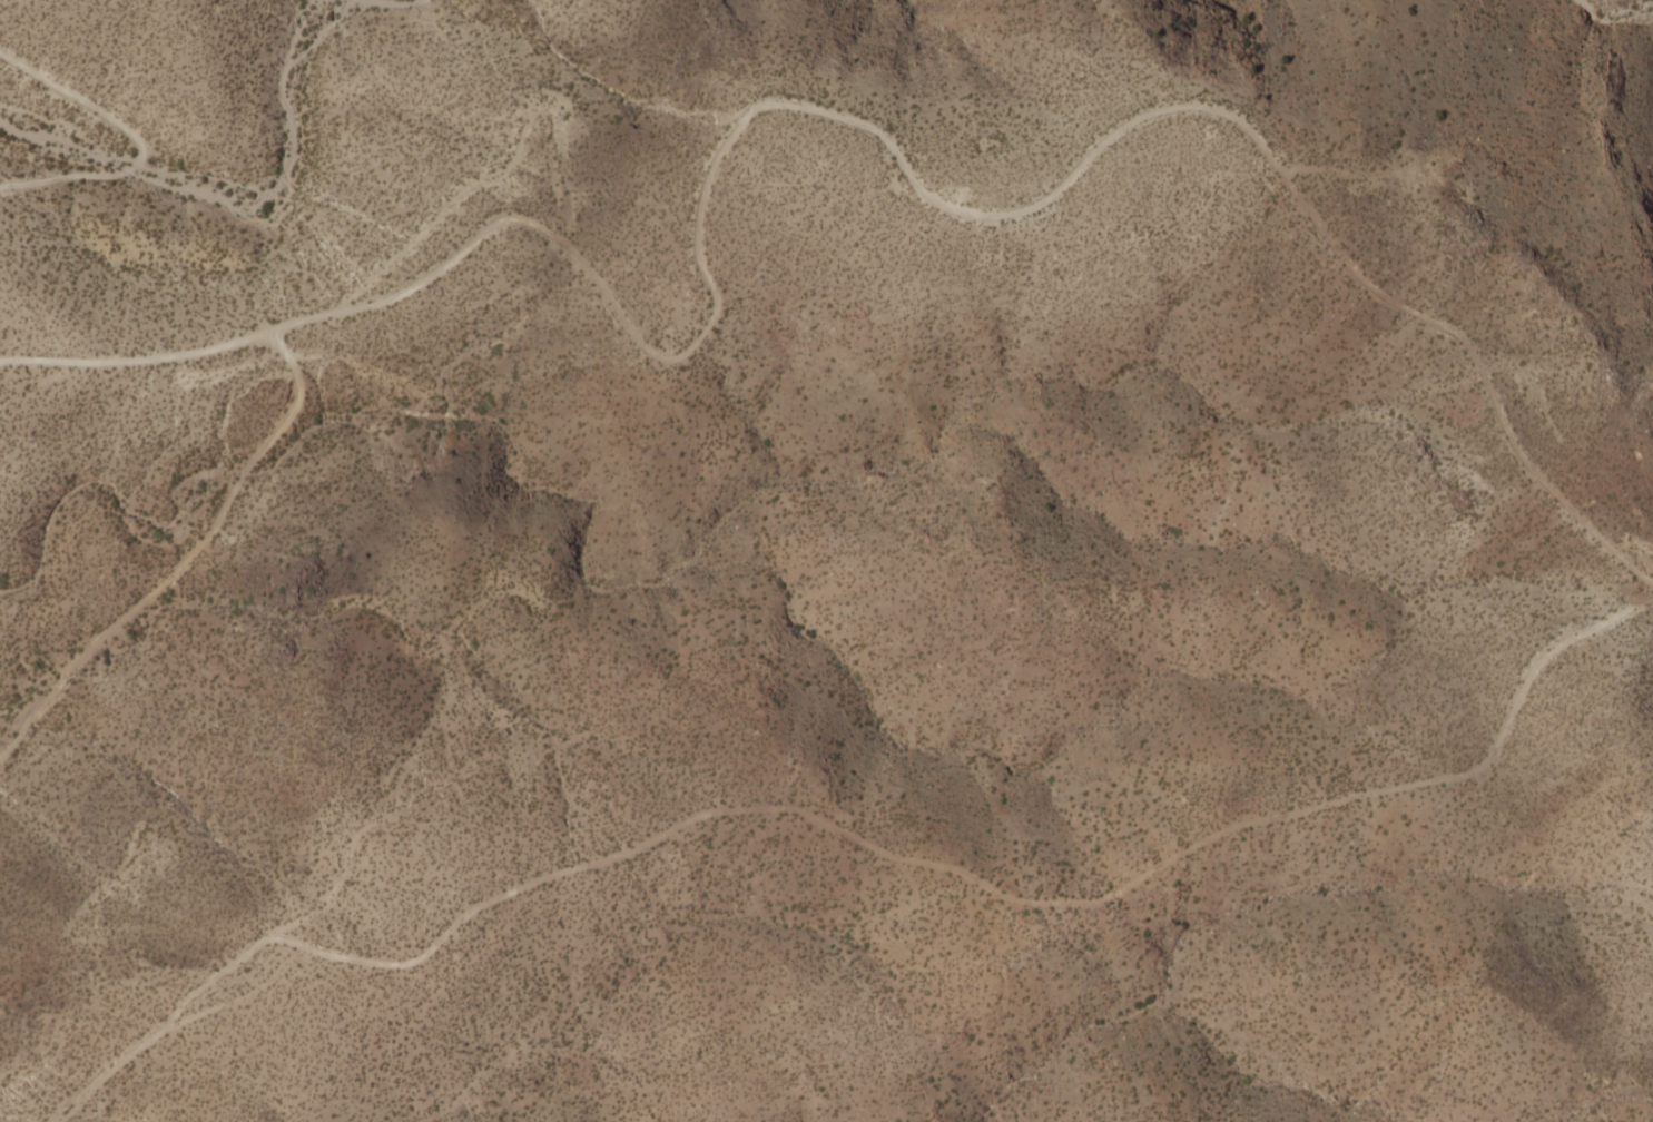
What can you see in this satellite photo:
road: (820, 120)
road: (132, 147)
road: (187, 560)
road: (855, 837)
road: (328, 897)

